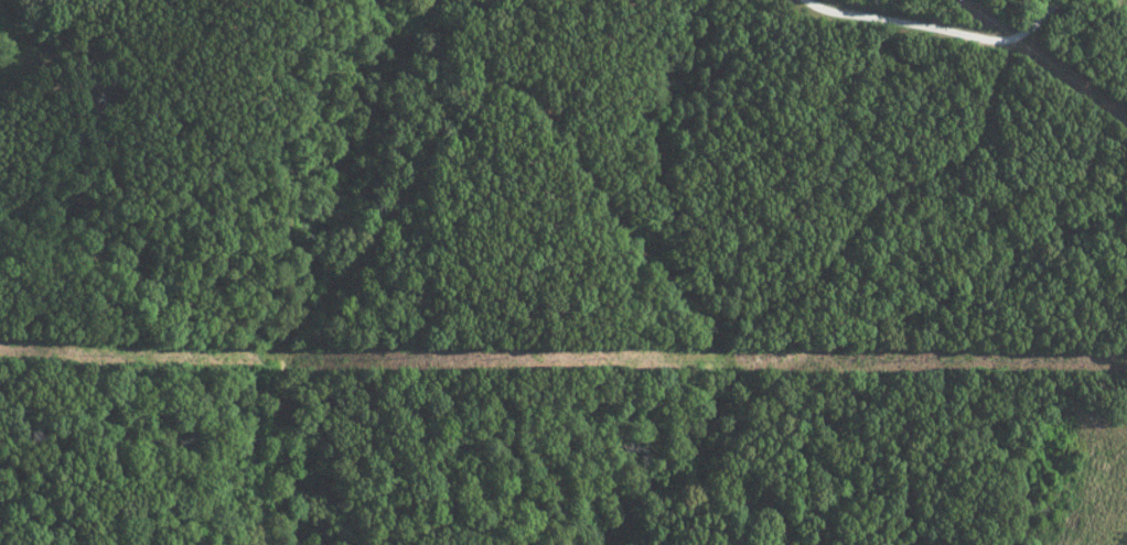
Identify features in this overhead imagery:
road: (923, 25)
road: (565, 131)

